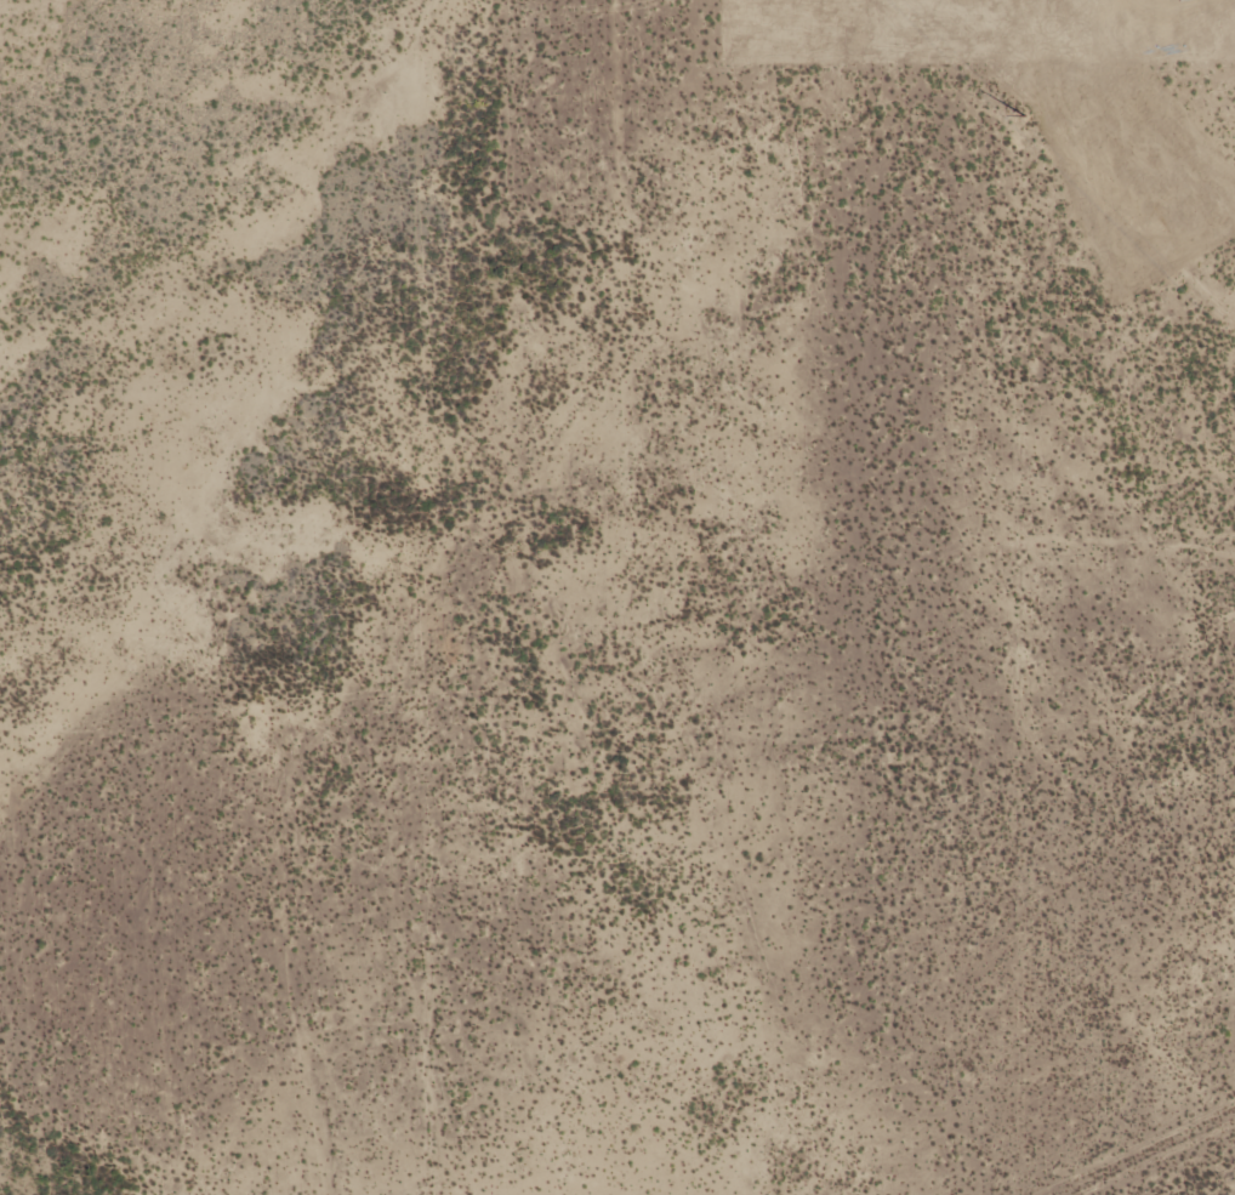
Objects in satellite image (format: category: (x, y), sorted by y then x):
power tower: (1024, 115)

